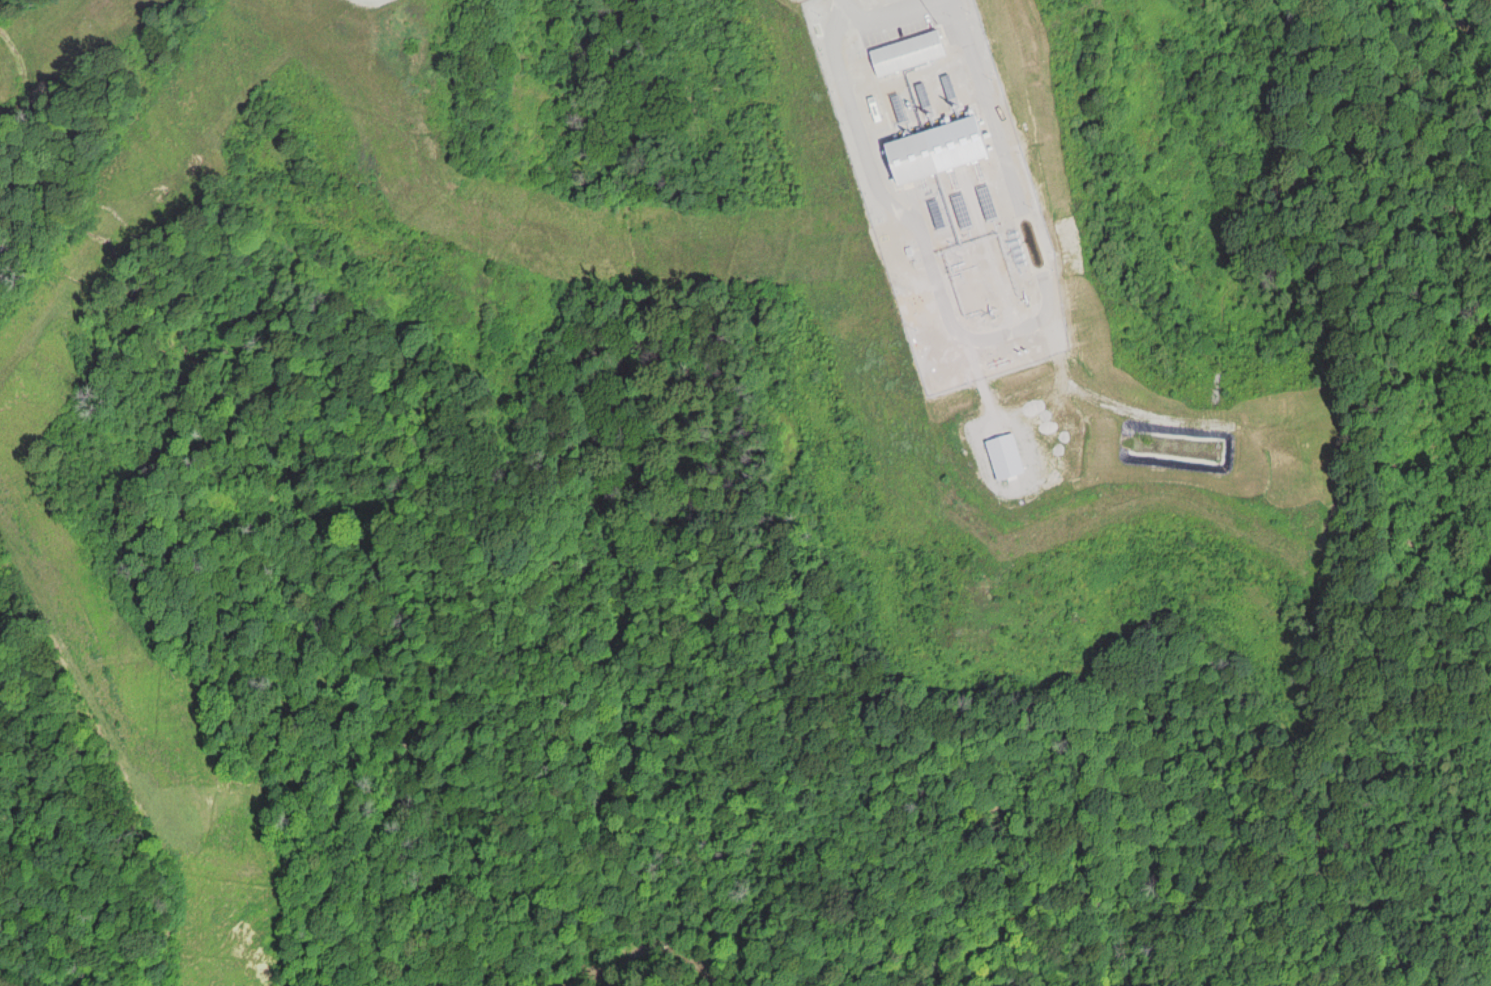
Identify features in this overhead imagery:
road: (363, 0)
road: (844, 6)

